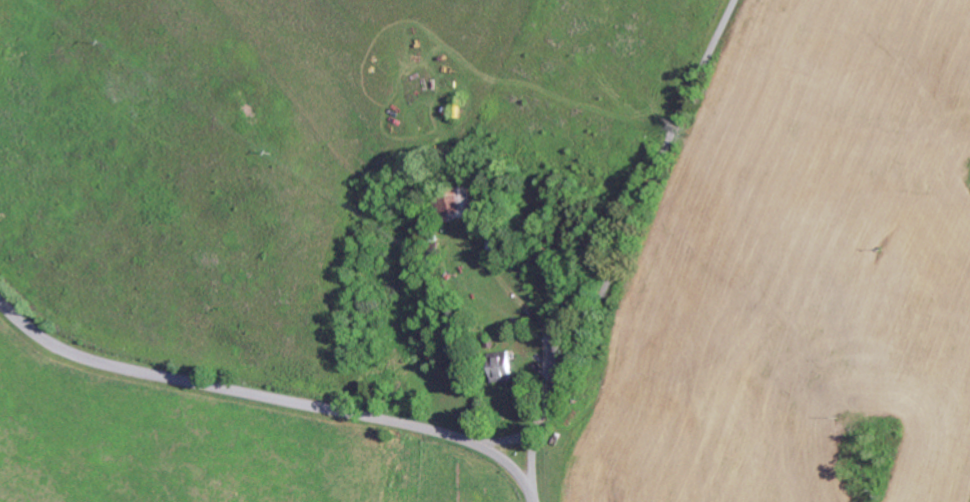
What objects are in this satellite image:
road: (631, 227)
building: (503, 368)
road: (257, 396)
road: (531, 478)

